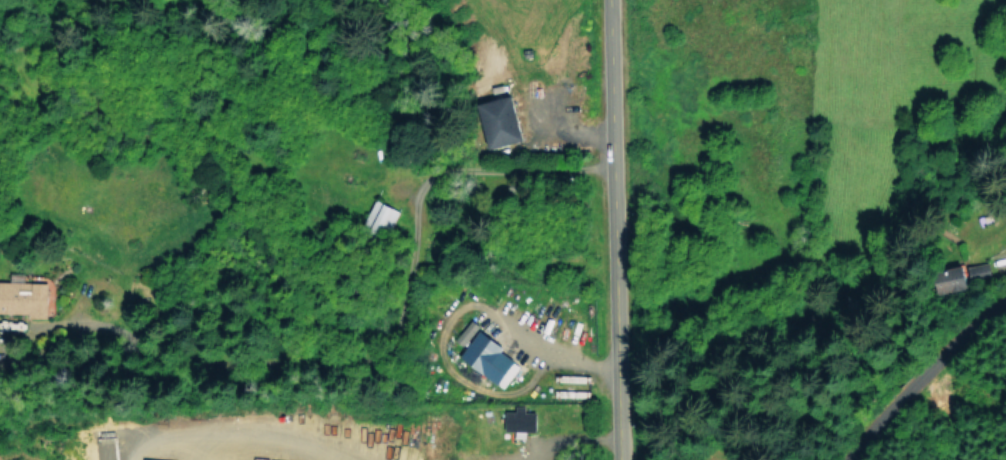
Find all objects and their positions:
building: (499, 121)
building: (380, 216)
road: (613, 230)
building: (978, 271)
building: (950, 279)
building: (486, 356)
road: (918, 373)
building: (518, 421)
road: (242, 429)

